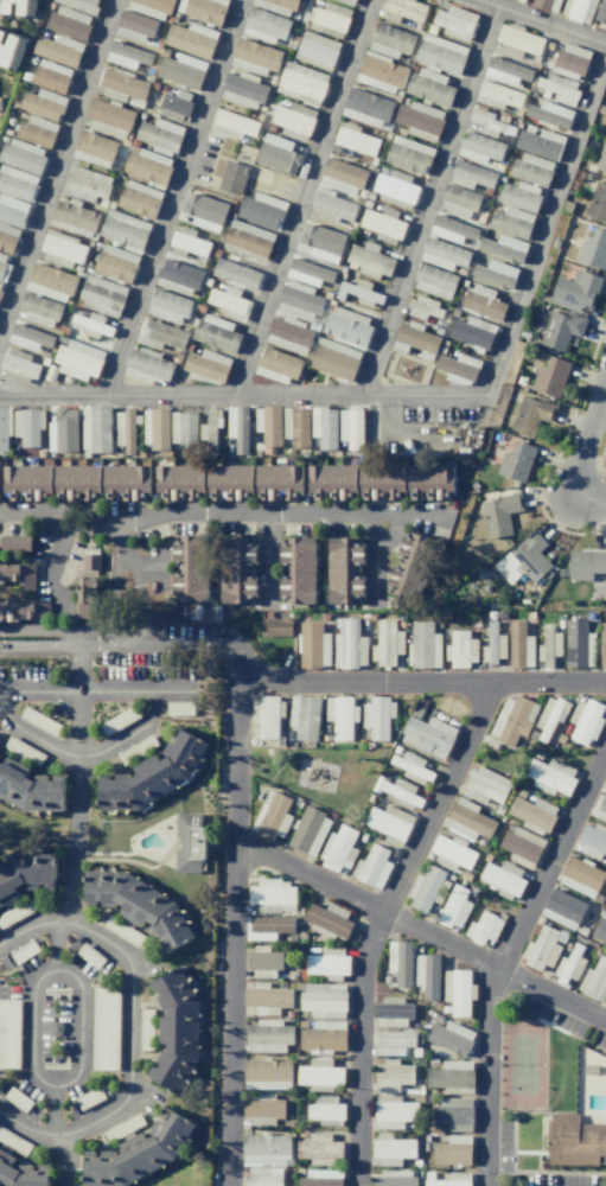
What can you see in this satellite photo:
building: (347, 1)
building: (519, 1)
building: (78, 5)
building: (547, 5)
building: (276, 6)
building: (151, 7)
building: (18, 8)
building: (205, 9)
building: (402, 9)
building: (578, 9)
building: (600, 12)
building: (328, 20)
road: (543, 20)
building: (68, 23)
building: (455, 23)
building: (266, 25)
building: (133, 26)
building: (191, 39)
building: (521, 39)
building: (389, 40)
building: (12, 50)
building: (58, 50)
building: (315, 50)
building: (441, 53)
building: (126, 56)
building: (255, 57)
building: (570, 60)
building: (181, 70)
building: (506, 71)
building: (381, 74)
building: (50, 76)
building: (301, 83)
building: (429, 87)
building: (559, 88)
building: (242, 89)
building: (498, 96)
building: (43, 104)
building: (173, 104)
building: (0, 106)
building: (366, 108)
building: (549, 114)
building: (107, 116)
building: (293, 120)
building: (420, 120)
building: (490, 122)
building: (231, 125)
building: (37, 130)
building: (159, 134)
building: (355, 140)
building: (540, 144)
building: (479, 147)
building: (93, 148)
building: (278, 154)
building: (21, 155)
building: (408, 155)
building: (601, 158)
road: (56, 162)
building: (147, 166)
building: (531, 168)
building: (471, 176)
building: (342, 177)
building: (232, 178)
building: (17, 183)
building: (85, 184)
building: (395, 189)
building: (519, 196)
road: (171, 197)
road: (300, 197)
road: (429, 198)
building: (138, 199)
building: (459, 200)
building: (598, 202)
building: (332, 208)
building: (261, 210)
building: (12, 211)
building: (204, 211)
road: (546, 217)
building: (72, 218)
building: (511, 222)
building: (383, 224)
building: (123, 230)
building: (452, 230)
building: (7, 238)
building: (248, 240)
building: (321, 242)
building: (187, 243)
building: (503, 247)
building: (593, 249)
building: (62, 250)
building: (442, 254)
building: (369, 260)
building: (115, 263)
building: (4, 267)
building: (308, 273)
building: (496, 273)
building: (236, 274)
building: (178, 278)
building: (434, 281)
building: (49, 282)
building: (0, 285)
building: (575, 291)
building: (358, 292)
building: (101, 296)
building: (299, 301)
building: (481, 301)
building: (229, 302)
building: (168, 307)
building: (423, 308)
building: (39, 310)
building: (91, 325)
building: (346, 325)
building: (561, 330)
building: (216, 333)
building: (471, 333)
building: (159, 334)
building: (288, 336)
building: (27, 338)
building: (414, 339)
building: (77, 359)
building: (334, 359)
building: (19, 365)
building: (147, 365)
building: (206, 365)
building: (276, 365)
building: (550, 377)
road: (242, 394)
building: (531, 414)
building: (268, 425)
building: (27, 426)
building: (295, 426)
building: (183, 427)
building: (323, 427)
building: (155, 428)
building: (210, 428)
building: (237, 428)
building: (350, 428)
building: (4, 429)
building: (95, 429)
building: (63, 431)
building: (125, 431)
road: (581, 442)
building: (516, 463)
building: (28, 482)
building: (77, 482)
building: (126, 482)
building: (183, 482)
building: (230, 482)
building: (279, 482)
building: (334, 482)
building: (383, 482)
building: (432, 482)
road: (218, 514)
building: (500, 514)
road: (120, 538)
building: (15, 543)
road: (269, 559)
road: (376, 559)
building: (91, 560)
building: (524, 560)
road: (52, 565)
building: (586, 565)
building: (410, 566)
building: (190, 569)
building: (237, 569)
building: (296, 569)
building: (343, 570)
building: (9, 573)
building: (27, 580)
road: (140, 592)
road: (114, 593)
building: (89, 598)
building: (15, 611)
building: (42, 611)
building: (275, 626)
road: (34, 631)
road: (168, 637)
building: (385, 643)
building: (578, 644)
road: (36, 645)
building: (312, 645)
building: (349, 645)
building: (423, 645)
building: (493, 645)
building: (548, 645)
building: (602, 645)
building: (519, 646)
building: (460, 649)
road: (421, 682)
road: (98, 691)
building: (179, 708)
building: (266, 715)
building: (340, 716)
building: (304, 718)
building: (377, 718)
building: (549, 719)
building: (38, 720)
building: (119, 720)
building: (512, 720)
building: (585, 721)
building: (428, 735)
building: (135, 750)
building: (24, 751)
road: (85, 757)
building: (412, 767)
park: (320, 774)
building: (550, 776)
building: (153, 777)
road: (77, 780)
building: (605, 780)
building: (485, 785)
building: (28, 789)
building: (402, 793)
building: (599, 808)
building: (532, 814)
building: (272, 816)
building: (467, 821)
building: (389, 824)
building: (308, 831)
building: (592, 841)
building: (189, 842)
building: (521, 847)
building: (338, 849)
building: (451, 852)
building: (372, 867)
building: (24, 873)
building: (580, 876)
building: (503, 878)
building: (428, 889)
building: (272, 895)
building: (139, 904)
building: (454, 907)
building: (562, 908)
building: (15, 912)
building: (327, 920)
road: (377, 922)
road: (28, 926)
building: (267, 927)
building: (483, 927)
building: (600, 929)
road: (232, 930)
building: (121, 931)
road: (420, 931)
road: (53, 946)
building: (542, 949)
building: (24, 951)
road: (503, 955)
building: (90, 956)
building: (400, 962)
building: (263, 963)
building: (328, 963)
building: (569, 967)
building: (427, 975)
building: (594, 981)
road: (79, 988)
building: (458, 991)
building: (266, 999)
building: (323, 1000)
building: (391, 1013)
building: (104, 1028)
building: (146, 1029)
building: (177, 1029)
building: (9, 1033)
road: (130, 1033)
building: (268, 1035)
building: (323, 1037)
building: (451, 1038)
building: (393, 1042)
park: (523, 1065)
building: (319, 1075)
building: (391, 1076)
building: (452, 1077)
building: (89, 1098)
building: (17, 1099)
building: (262, 1109)
building: (325, 1110)
road: (53, 1111)
building: (393, 1112)
building: (454, 1114)
building: (122, 1127)
building: (566, 1127)
road: (24, 1128)
building: (591, 1134)
building: (13, 1142)
building: (266, 1149)
building: (318, 1149)
building: (391, 1149)
building: (452, 1150)
building: (574, 1152)
building: (139, 1154)
road: (66, 1160)
building: (19, 1174)
building: (262, 1177)
building: (320, 1178)
building: (393, 1179)
building: (451, 1180)

